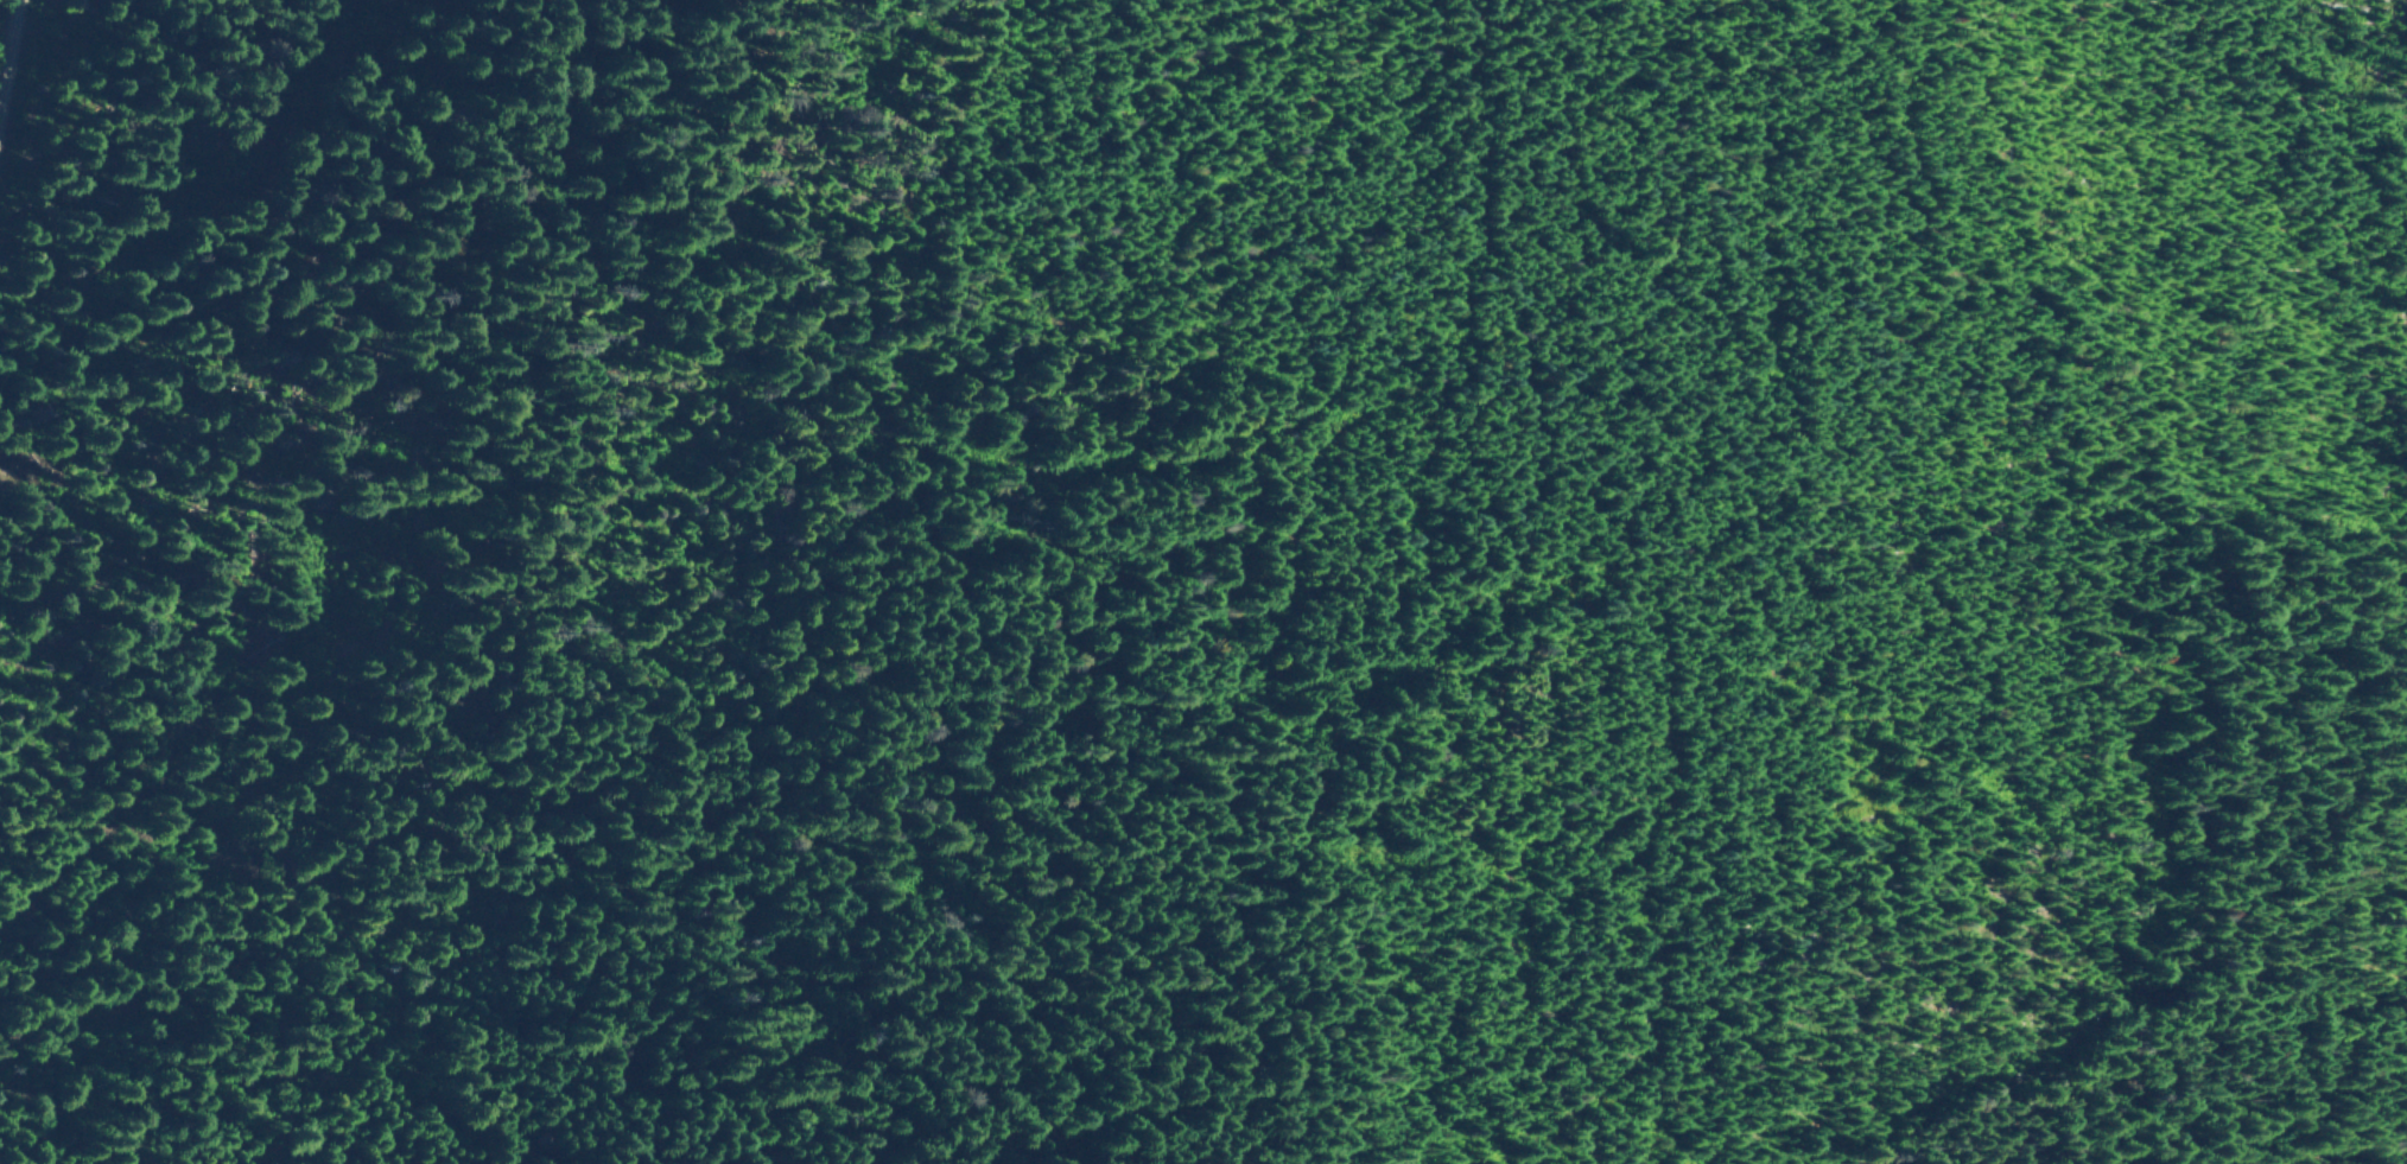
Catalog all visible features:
road: (7, 38)

